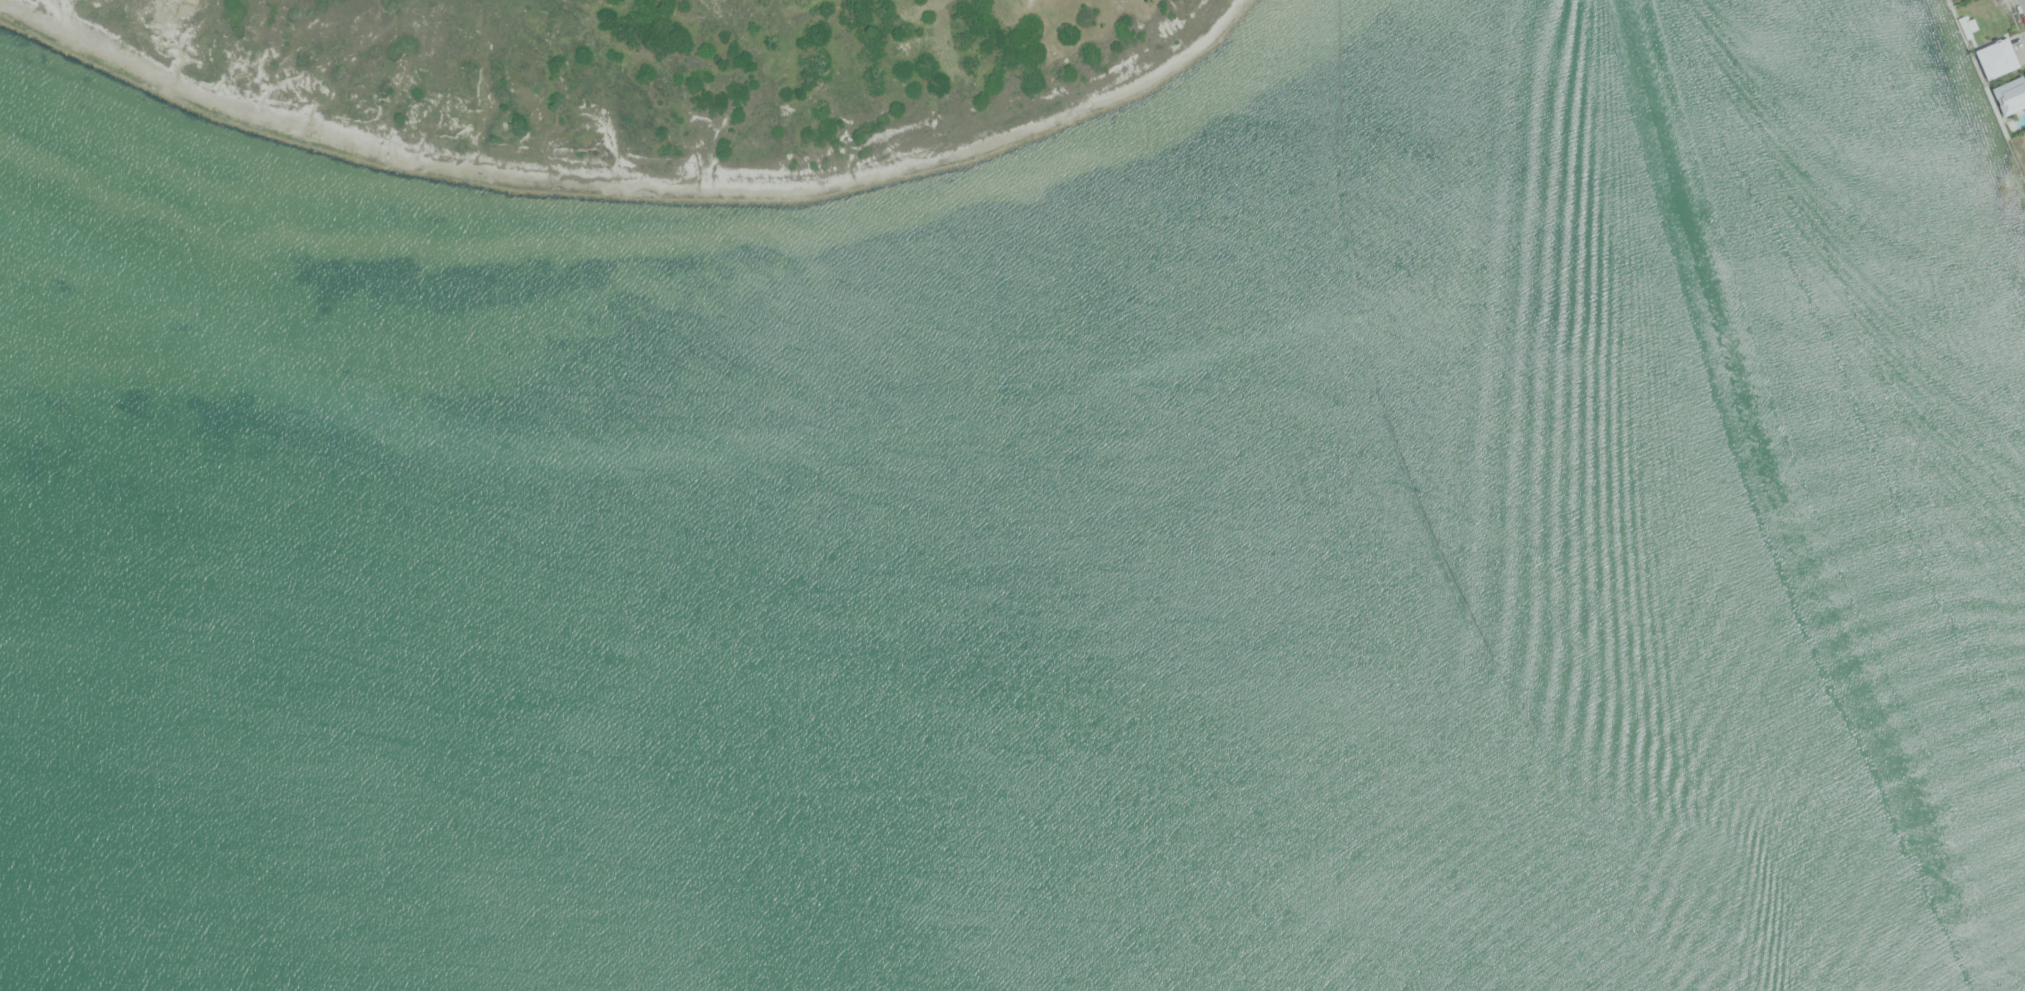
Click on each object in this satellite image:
road: (2023, 3)
building: (1994, 57)
building: (2009, 95)

